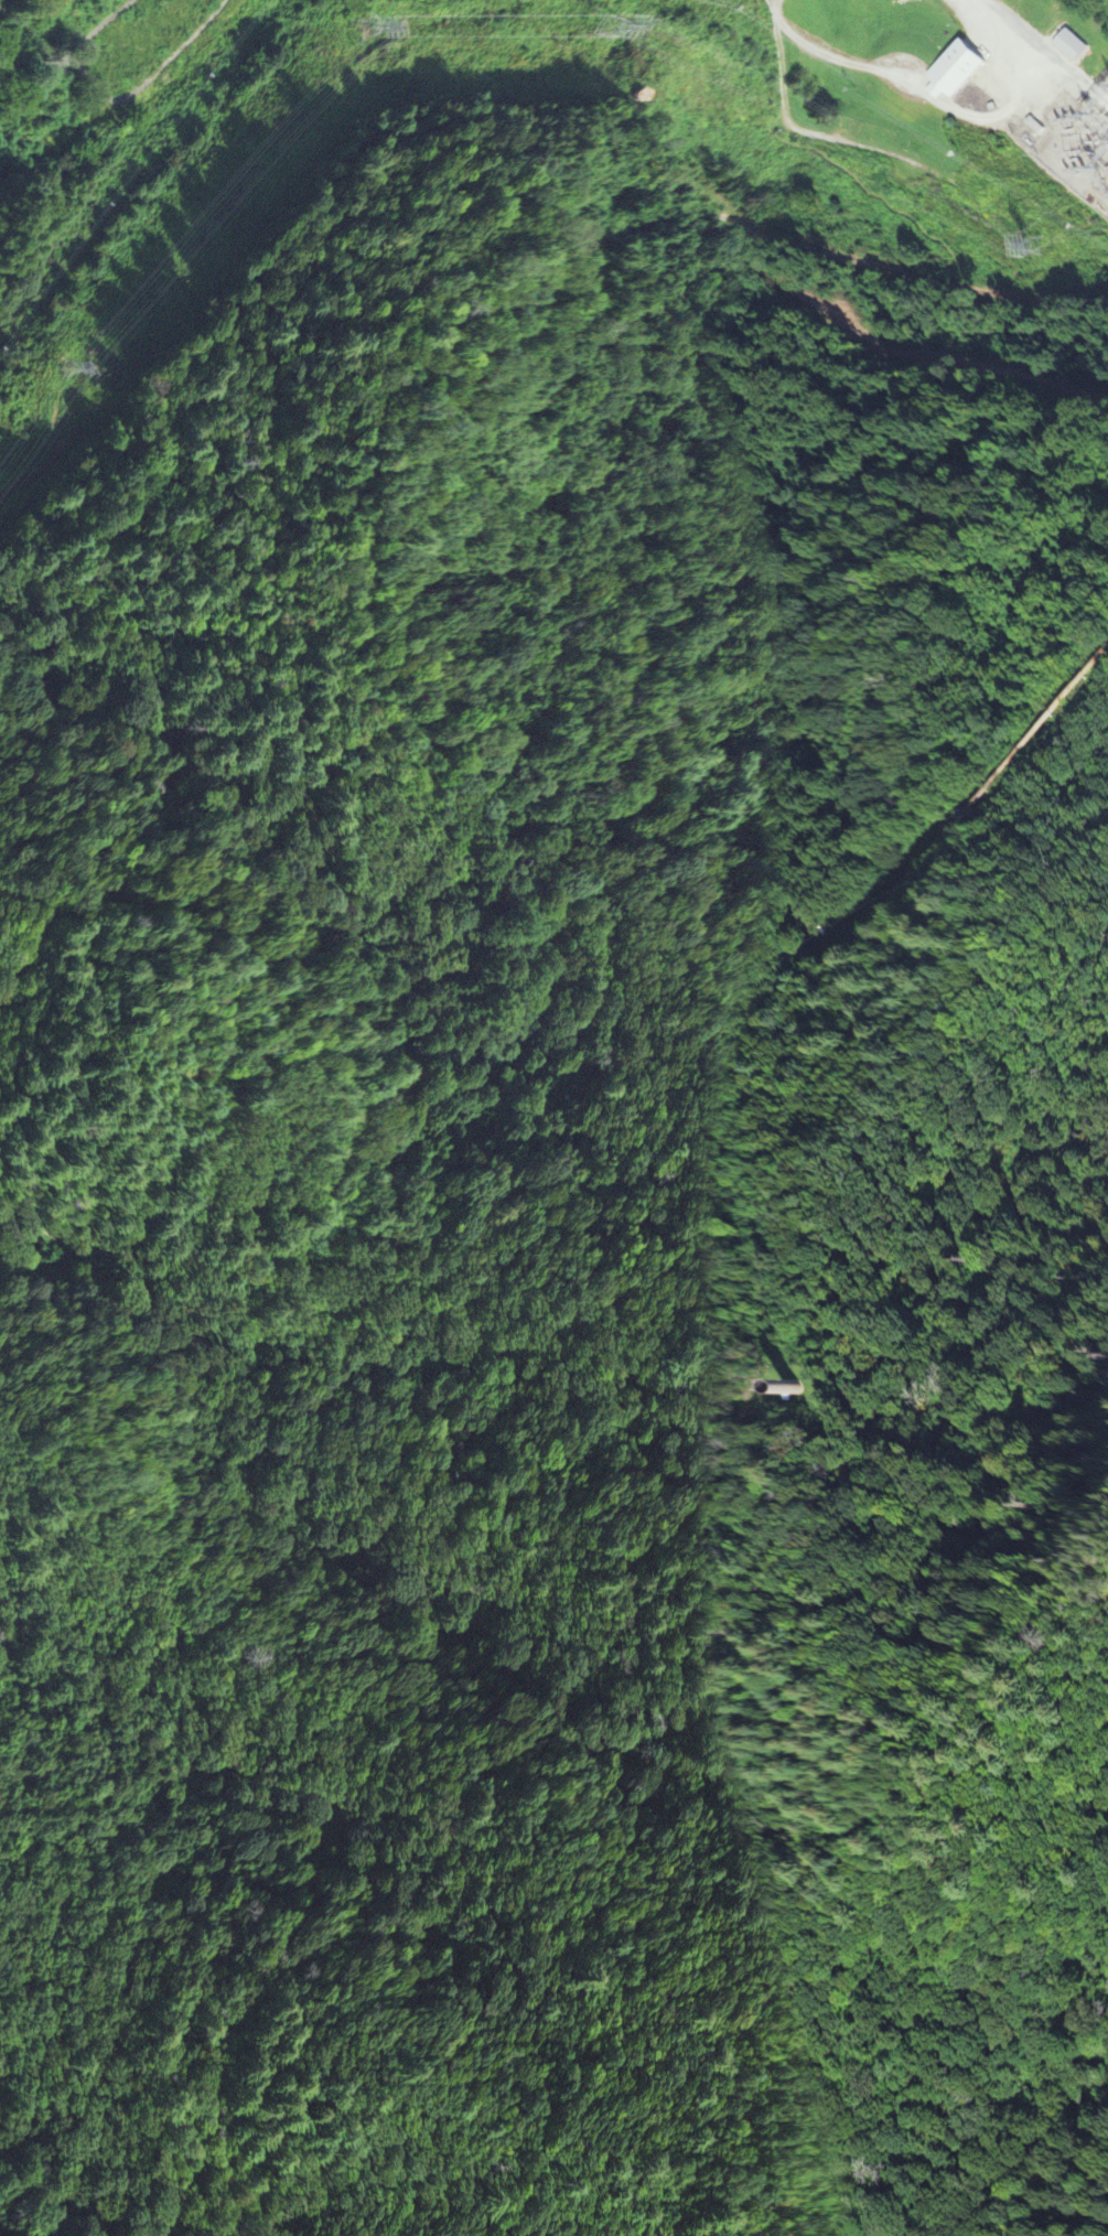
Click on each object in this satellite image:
road: (771, 7)
power tower: (361, 24)
power tower: (605, 24)
road: (1008, 40)
building: (1068, 49)
road: (73, 52)
road: (778, 60)
building: (951, 75)
road: (913, 86)
parking lot: (862, 135)
road: (858, 144)
road: (873, 200)
power tower: (1035, 246)
road: (819, 252)
road: (1015, 297)
road: (217, 332)
road: (888, 353)
power tower: (63, 365)
road: (454, 1229)
road: (71, 1256)
road: (843, 1697)
road: (474, 1776)

